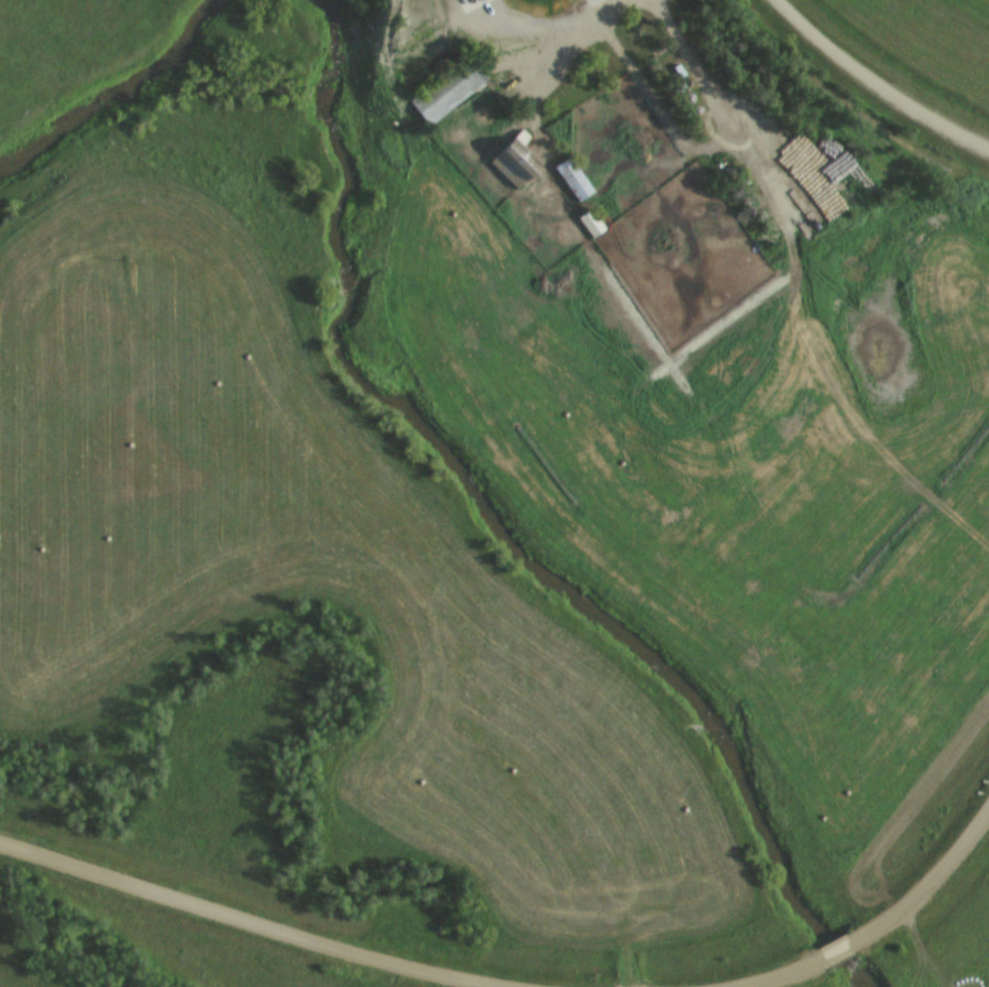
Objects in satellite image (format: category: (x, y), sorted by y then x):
road: (581, 39)
road: (874, 85)
building: (450, 92)
building: (521, 159)
building: (574, 181)
building: (591, 225)
road: (928, 884)
road: (240, 921)
road: (839, 954)
road: (788, 974)

